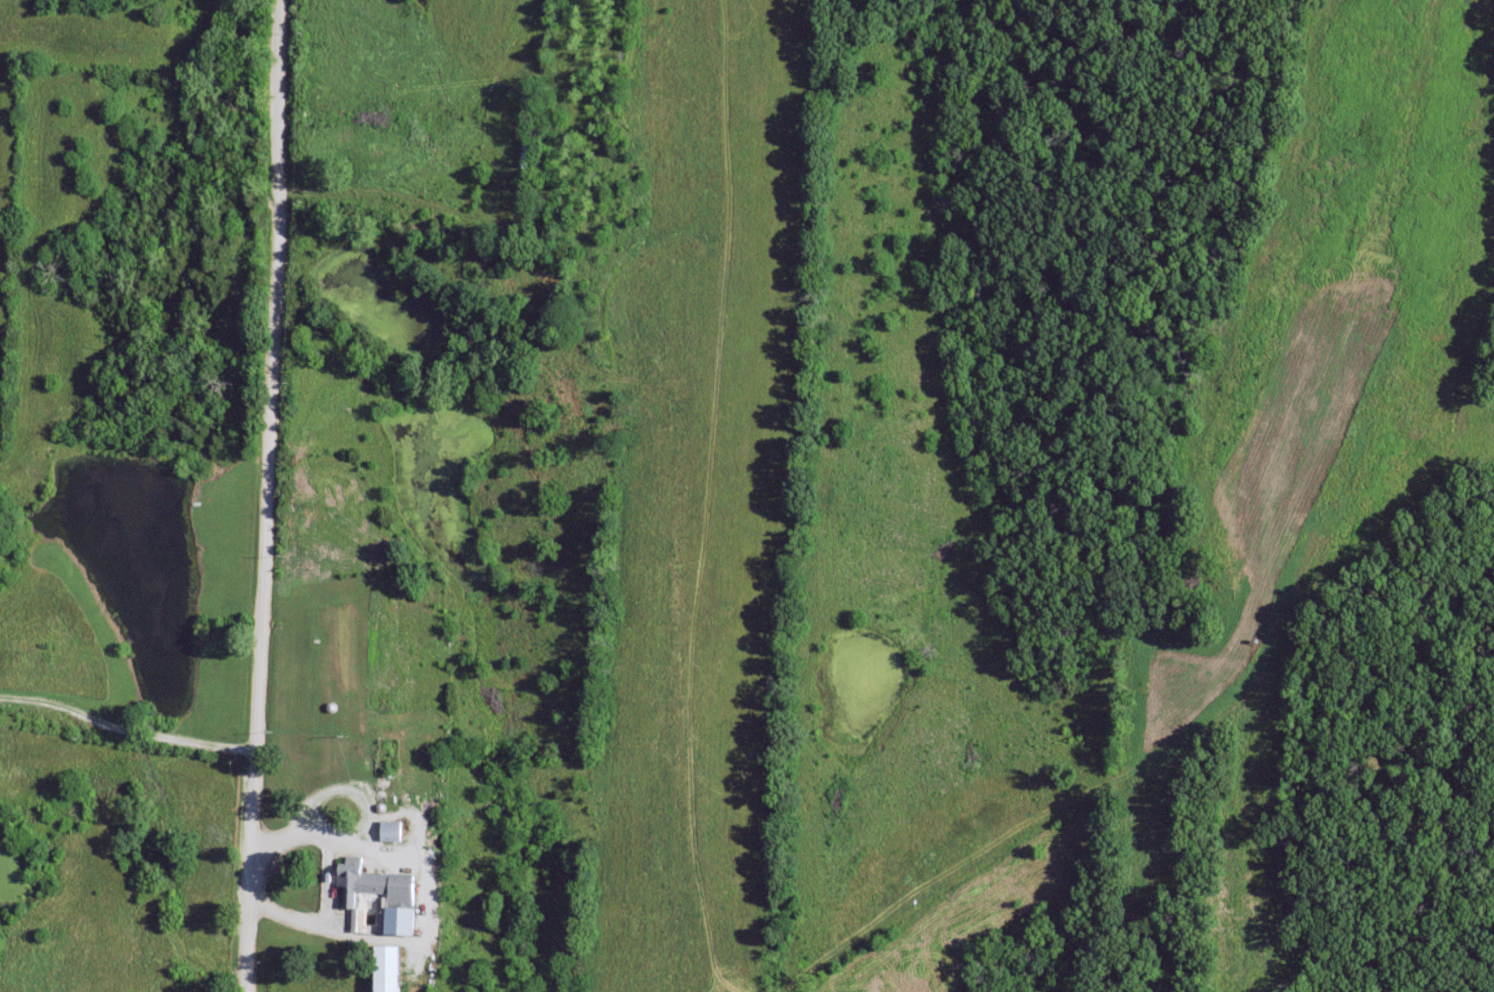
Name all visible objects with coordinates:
road: (261, 496)
road: (124, 731)
building: (394, 831)
building: (377, 885)
building: (393, 968)

